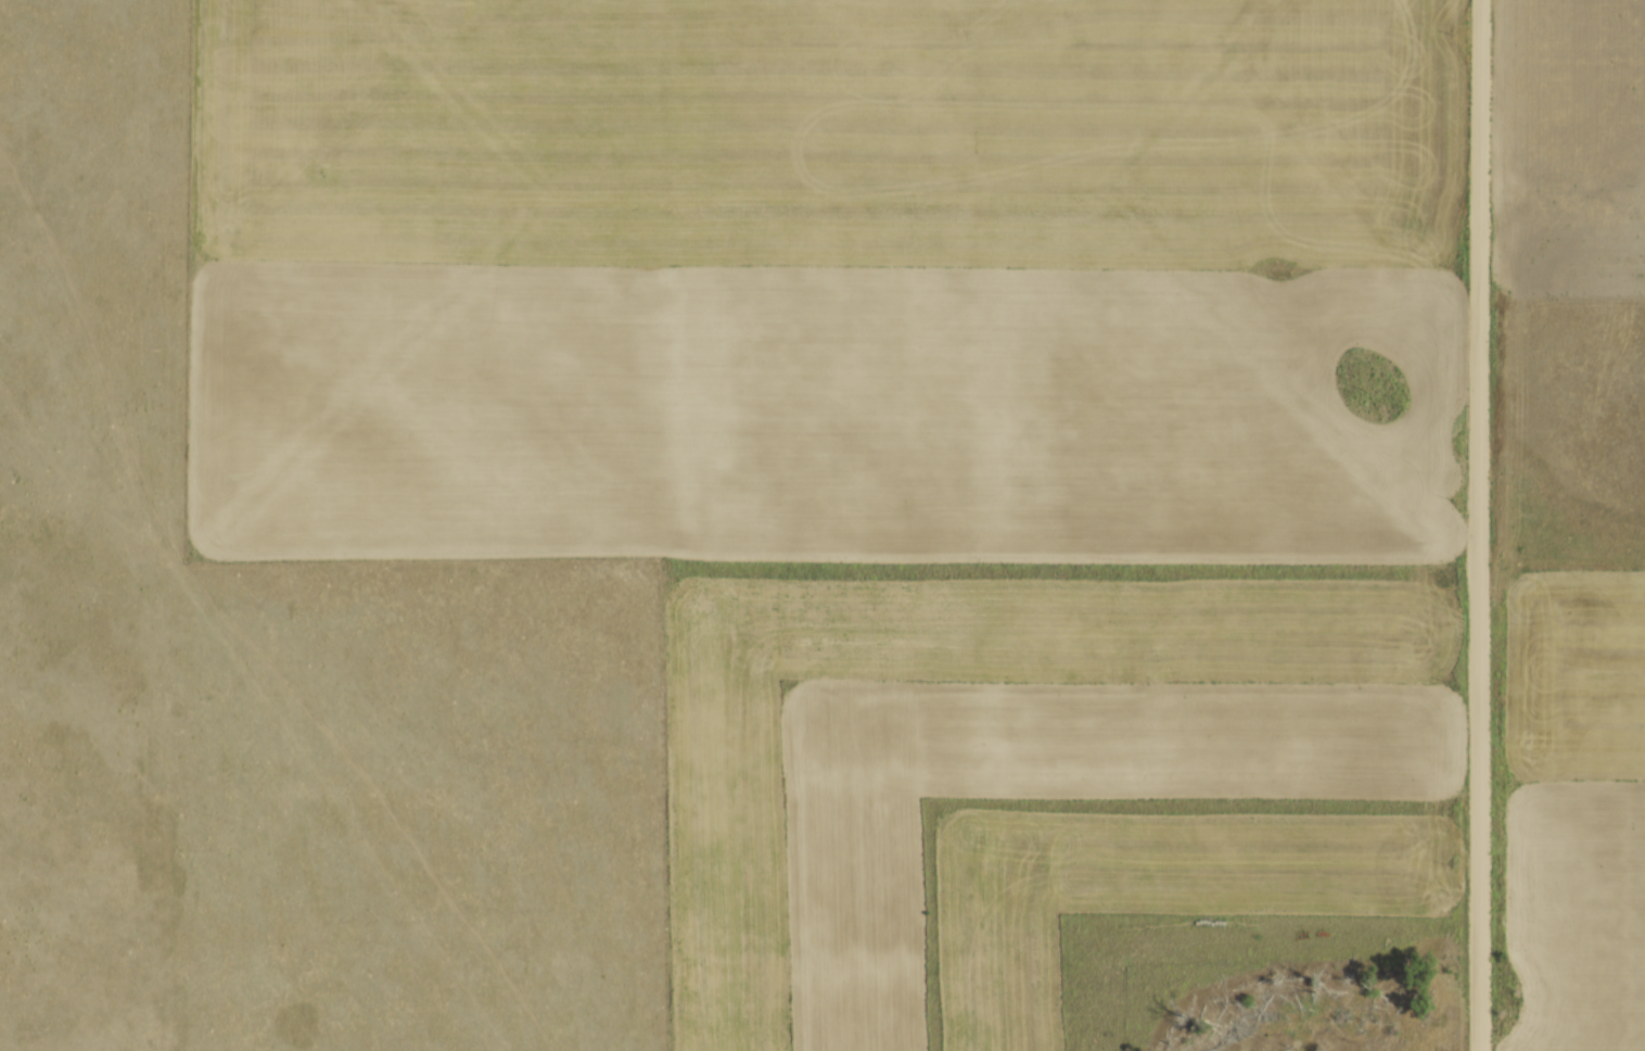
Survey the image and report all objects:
road: (1477, 525)

